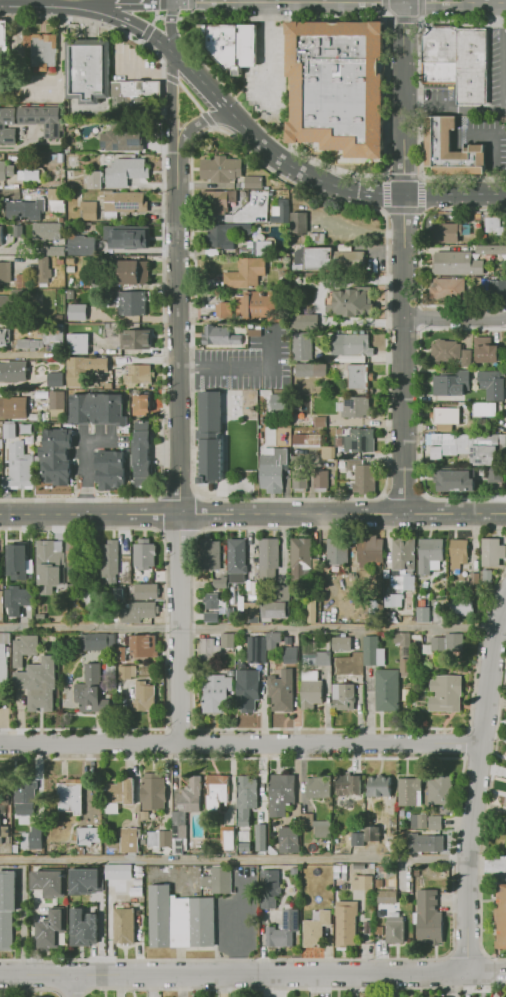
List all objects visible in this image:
road: (403, 1)
road: (167, 2)
road: (171, 2)
road: (231, 2)
road: (338, 3)
traffic signals: (171, 4)
road: (49, 8)
road: (190, 8)
road: (135, 9)
road: (385, 16)
road: (167, 17)
road: (405, 19)
road: (151, 22)
road: (139, 28)
building: (3, 34)
road: (172, 35)
traffic signals: (153, 37)
building: (230, 45)
road: (385, 45)
building: (41, 52)
road: (264, 53)
road: (503, 56)
building: (458, 61)
building: (87, 70)
road: (168, 78)
building: (337, 87)
building: (133, 93)
road: (188, 97)
road: (455, 109)
building: (40, 117)
road: (207, 120)
road: (172, 123)
building: (2, 126)
road: (192, 128)
road: (246, 132)
building: (121, 141)
road: (419, 141)
building: (451, 151)
building: (221, 169)
building: (5, 171)
building: (127, 173)
building: (31, 174)
road: (419, 177)
building: (92, 179)
building: (254, 182)
road: (371, 190)
building: (55, 193)
road: (456, 193)
building: (125, 203)
building: (218, 203)
building: (20, 209)
building: (87, 211)
building: (279, 213)
building: (489, 220)
building: (299, 223)
building: (449, 231)
building: (45, 232)
building: (222, 234)
building: (0, 236)
building: (133, 236)
building: (81, 246)
building: (263, 247)
building: (490, 249)
building: (55, 251)
road: (407, 257)
building: (312, 258)
road: (419, 258)
road: (385, 259)
building: (456, 263)
building: (4, 271)
building: (43, 271)
road: (161, 271)
building: (134, 272)
building: (246, 273)
building: (19, 280)
building: (87, 284)
building: (446, 290)
building: (497, 290)
building: (350, 301)
building: (0, 302)
building: (135, 303)
building: (252, 307)
building: (75, 312)
building: (57, 317)
building: (98, 319)
building: (305, 321)
road: (456, 321)
building: (255, 333)
building: (53, 335)
building: (3, 337)
building: (221, 337)
building: (135, 339)
building: (29, 344)
building: (78, 344)
building: (350, 345)
building: (302, 346)
building: (443, 349)
road: (179, 351)
building: (489, 353)
building: (466, 358)
parking lot: (247, 363)
road: (242, 370)
building: (310, 370)
building: (12, 371)
building: (75, 374)
building: (136, 375)
building: (356, 376)
building: (53, 380)
building: (451, 383)
building: (492, 385)
road: (189, 394)
building: (277, 401)
building: (143, 403)
building: (56, 406)
building: (355, 408)
building: (13, 409)
building: (96, 409)
building: (484, 409)
building: (446, 418)
building: (320, 421)
building: (9, 431)
building: (208, 438)
building: (440, 438)
building: (305, 440)
building: (0, 441)
building: (358, 441)
building: (502, 441)
building: (449, 450)
building: (328, 452)
building: (143, 454)
building: (482, 456)
building: (55, 458)
building: (19, 464)
road: (86, 465)
building: (433, 466)
building: (110, 469)
building: (272, 470)
building: (363, 474)
building: (494, 477)
building: (300, 480)
building: (455, 480)
building: (320, 481)
road: (252, 513)
building: (493, 552)
building: (142, 553)
building: (332, 553)
building: (370, 553)
building: (459, 553)
building: (211, 554)
building: (301, 554)
building: (12, 555)
building: (403, 555)
building: (430, 555)
building: (237, 556)
building: (48, 557)
building: (269, 559)
building: (109, 562)
building: (476, 580)
building: (400, 582)
building: (221, 584)
building: (145, 591)
building: (116, 592)
building: (27, 595)
building: (1, 598)
building: (393, 600)
building: (210, 601)
building: (14, 603)
building: (0, 604)
building: (461, 606)
building: (310, 610)
building: (138, 611)
building: (249, 611)
building: (275, 611)
building: (302, 611)
building: (25, 613)
building: (422, 614)
building: (391, 617)
building: (210, 618)
road: (179, 628)
road: (248, 628)
building: (403, 639)
building: (275, 640)
building: (229, 641)
building: (96, 642)
building: (342, 643)
building: (143, 644)
building: (454, 644)
building: (29, 645)
building: (434, 647)
building: (370, 648)
building: (256, 650)
building: (209, 651)
building: (122, 655)
building: (291, 655)
building: (321, 658)
building: (3, 662)
building: (406, 667)
building: (91, 672)
building: (126, 672)
building: (385, 689)
building: (218, 691)
building: (248, 691)
building: (282, 691)
building: (310, 694)
building: (446, 694)
building: (408, 695)
building: (344, 696)
building: (40, 697)
building: (145, 698)
building: (90, 699)
road: (240, 742)
building: (349, 786)
building: (379, 786)
road: (476, 787)
building: (316, 788)
building: (439, 789)
building: (409, 790)
building: (122, 791)
building: (154, 791)
building: (216, 791)
building: (247, 791)
building: (282, 795)
building: (69, 798)
building: (505, 803)
building: (187, 804)
building: (23, 811)
road: (484, 815)
building: (419, 820)
building: (436, 822)
building: (315, 825)
building: (4, 831)
building: (372, 832)
building: (261, 834)
building: (88, 835)
building: (33, 837)
building: (287, 838)
building: (355, 838)
building: (128, 839)
building: (157, 839)
building: (227, 841)
building: (436, 843)
road: (450, 849)
road: (234, 861)
road: (487, 866)
building: (117, 871)
building: (293, 871)
building: (218, 878)
building: (49, 881)
building: (85, 881)
building: (361, 881)
building: (269, 887)
building: (388, 896)
building: (6, 908)
building: (500, 916)
building: (429, 917)
building: (179, 919)
building: (347, 923)
building: (123, 925)
building: (81, 928)
building: (283, 929)
building: (315, 929)
building: (394, 931)
building: (49, 932)
road: (233, 937)
road: (487, 971)
road: (489, 973)
road: (236, 974)
road: (76, 986)
road: (283, 987)
road: (32, 988)
building: (40, 996)

